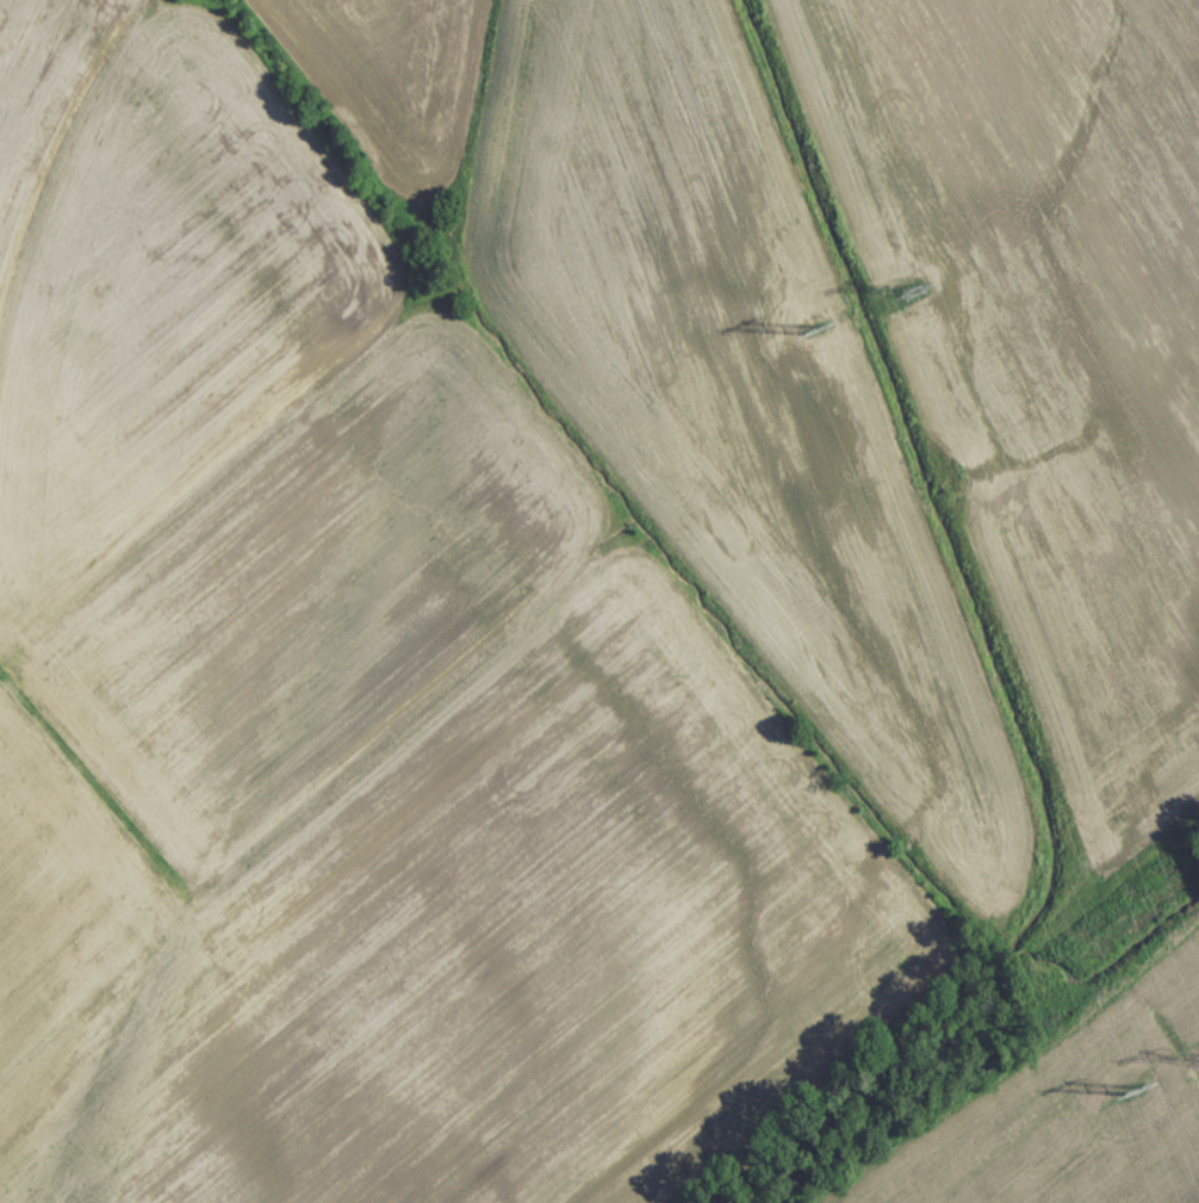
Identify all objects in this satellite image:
power tower: (908, 302)
power tower: (809, 339)
power tower: (1129, 1102)

